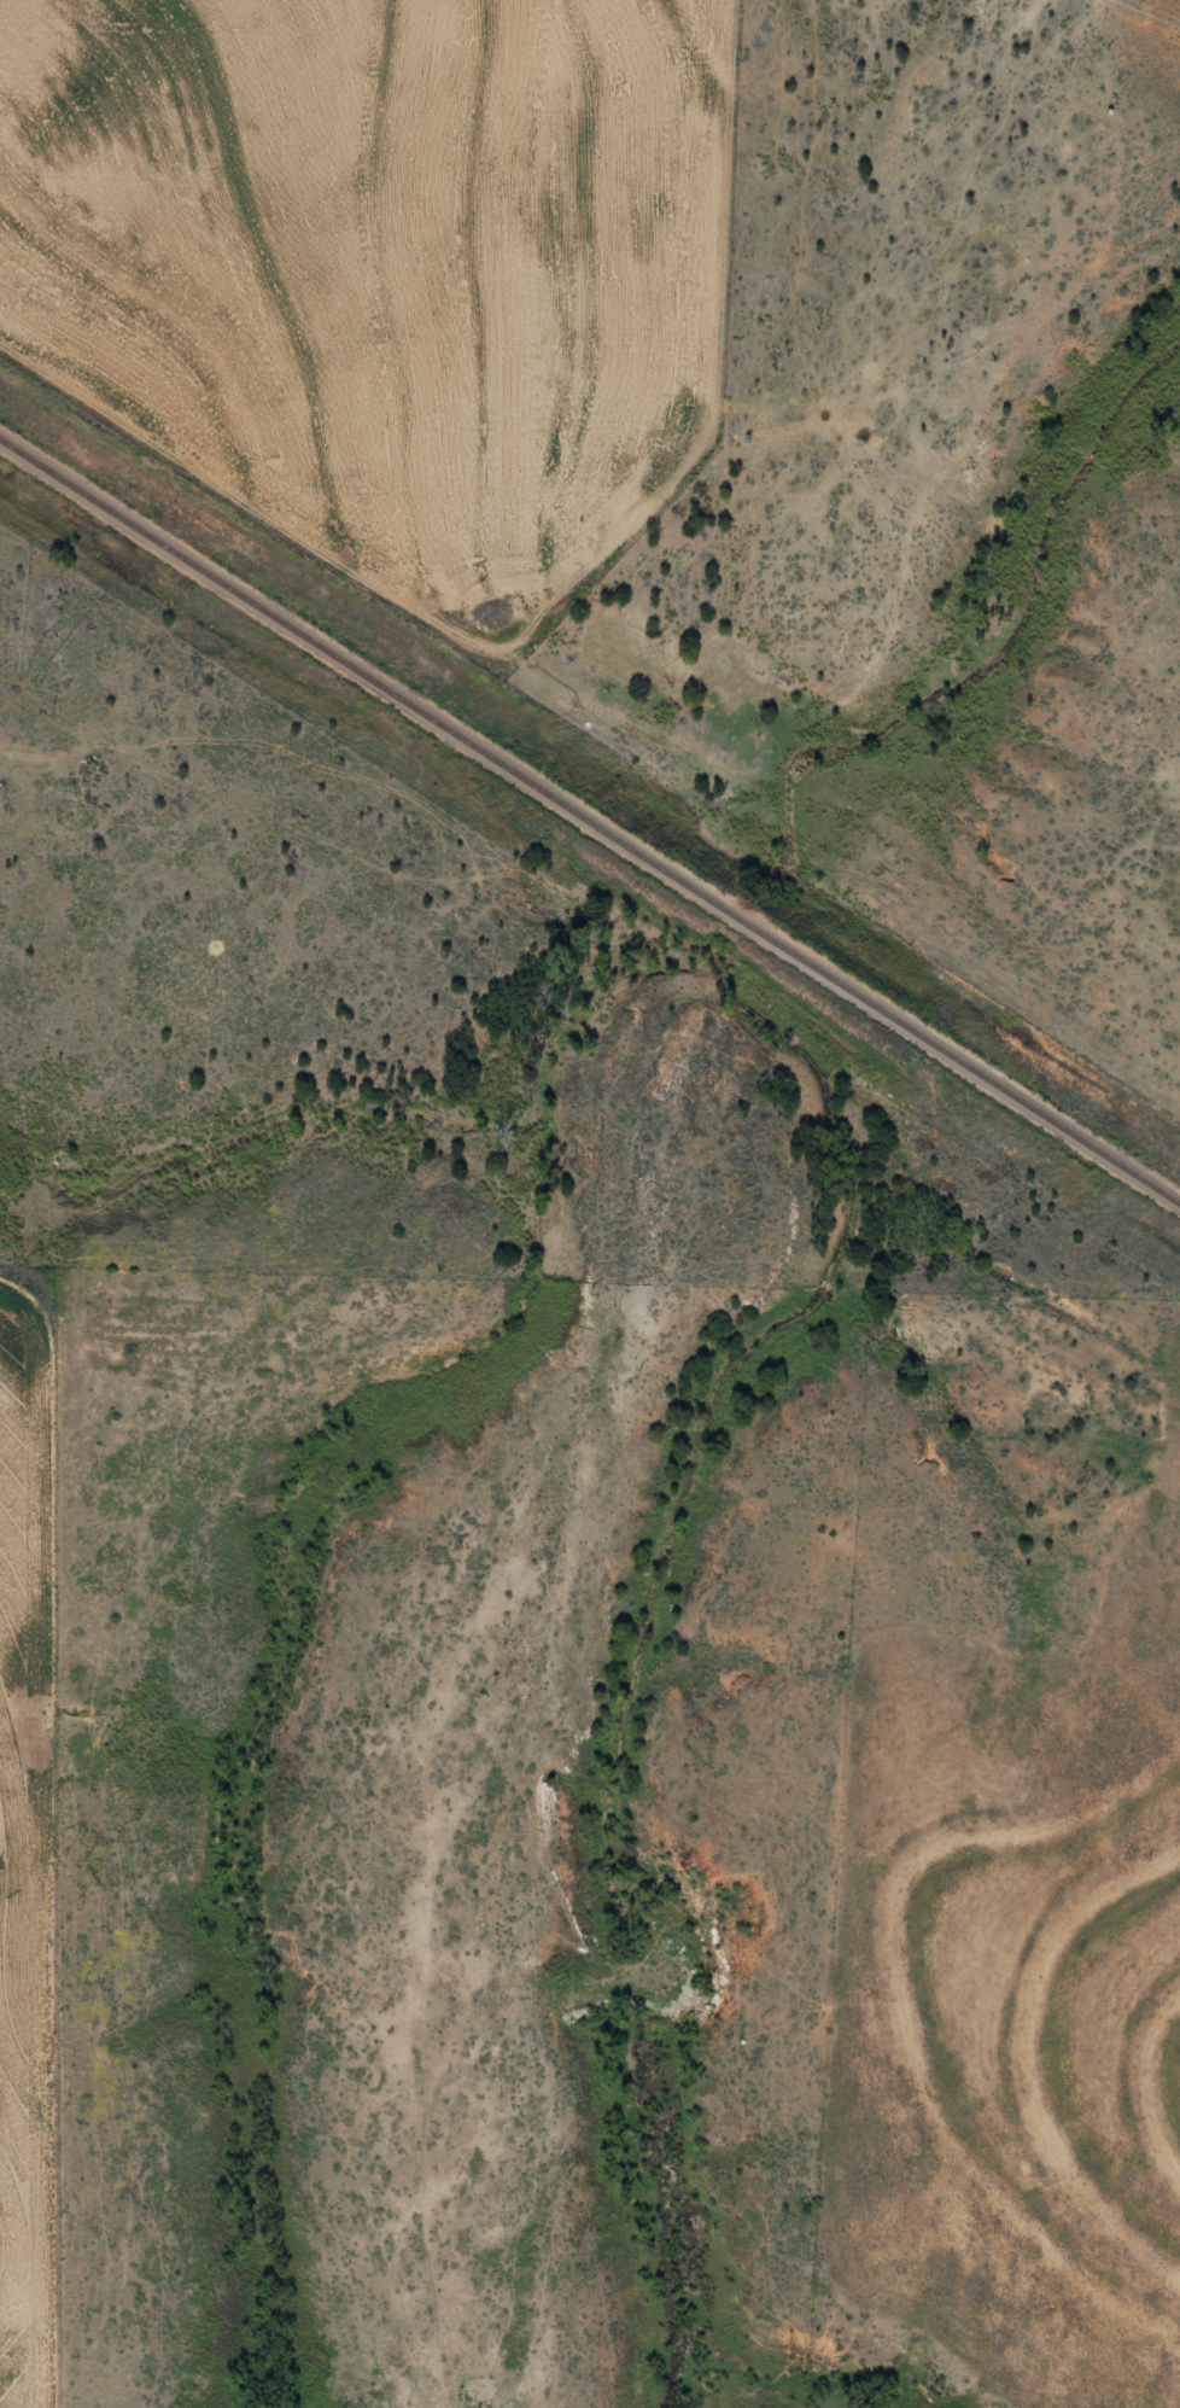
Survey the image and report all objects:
railway: (590, 830)

